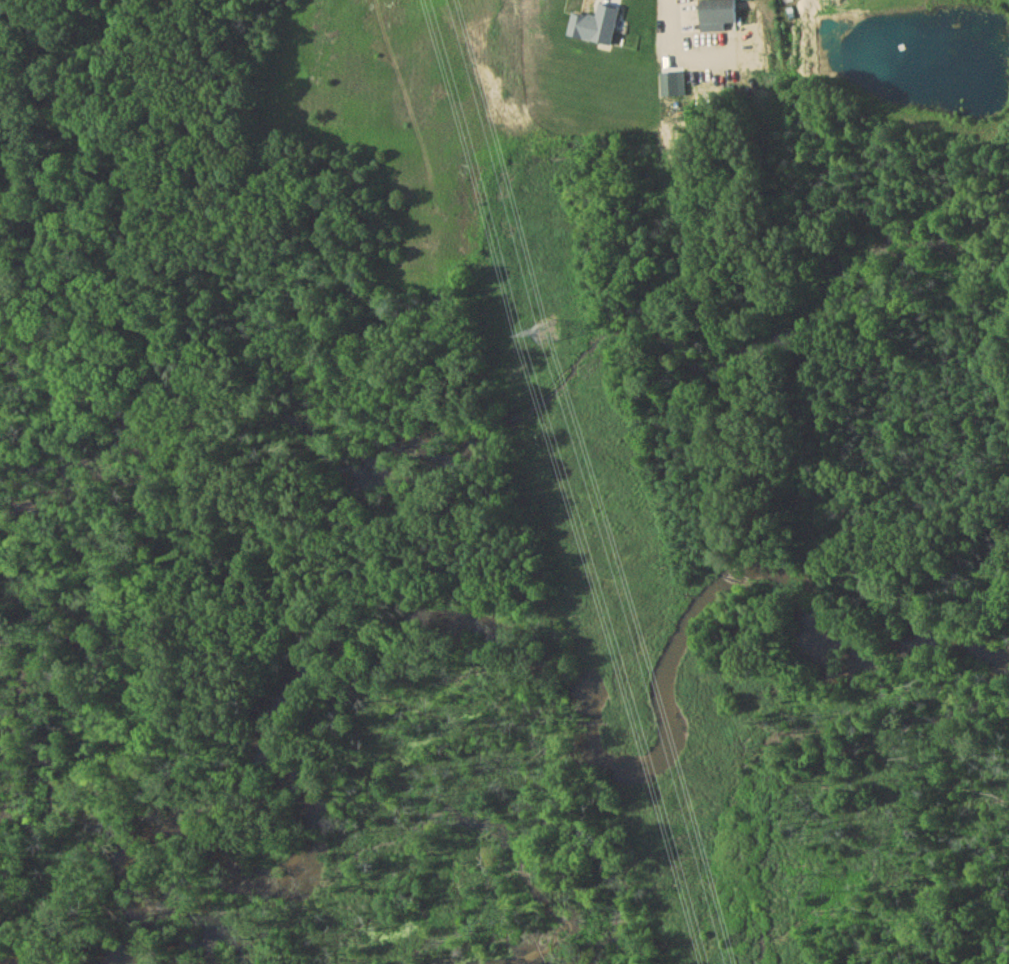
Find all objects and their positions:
building: (716, 17)
road: (665, 19)
power tower: (545, 337)

